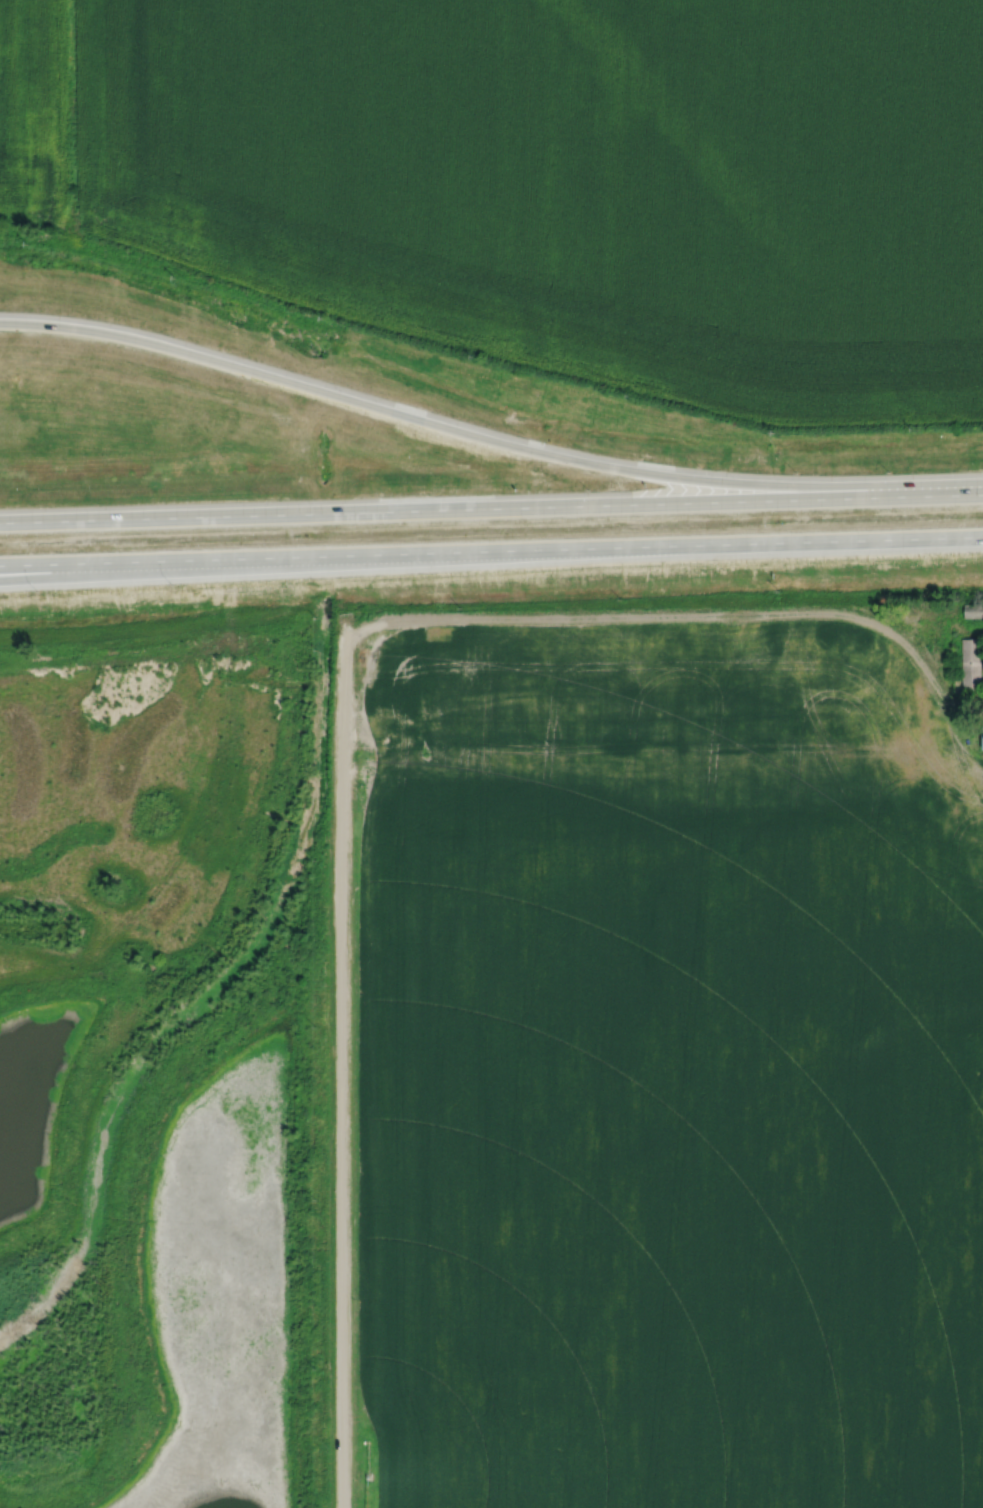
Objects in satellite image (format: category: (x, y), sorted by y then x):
crop: (546, 179)
road: (486, 438)
road: (491, 511)
road: (491, 551)
road: (204, 569)
building: (973, 610)
crop: (663, 654)
building: (971, 661)
road: (977, 701)
road: (977, 704)
road: (657, 709)
building: (982, 737)
road: (343, 1066)
crop: (673, 1114)

